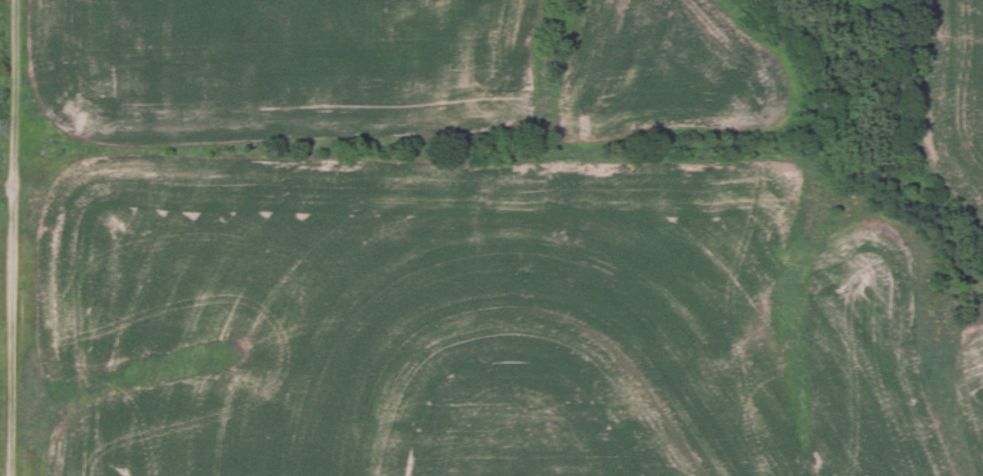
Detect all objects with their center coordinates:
road: (11, 237)

